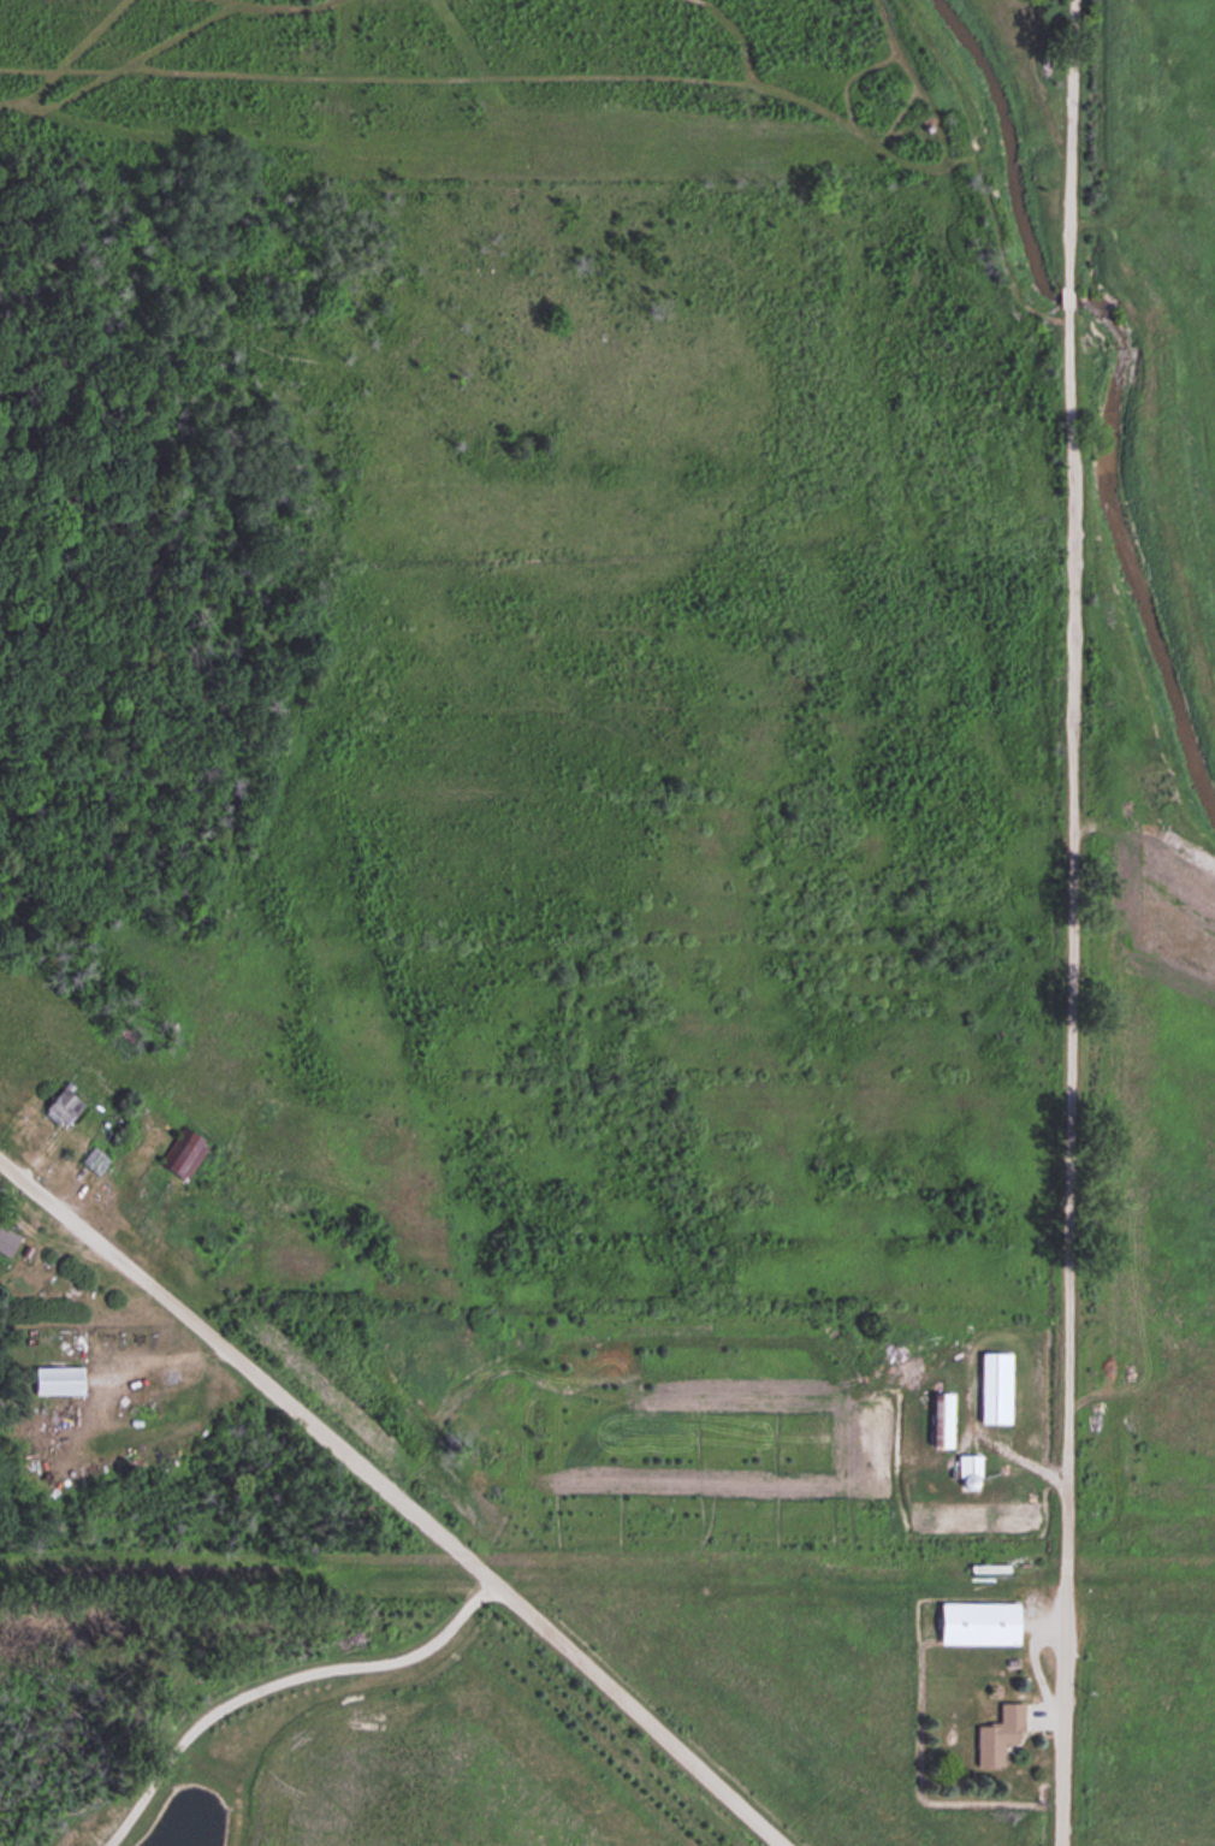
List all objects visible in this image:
road: (1065, 923)
building: (59, 1104)
building: (174, 1148)
building: (93, 1158)
building: (6, 1236)
building: (54, 1375)
building: (992, 1383)
road: (393, 1499)
building: (974, 1619)
road: (273, 1678)
building: (997, 1730)

